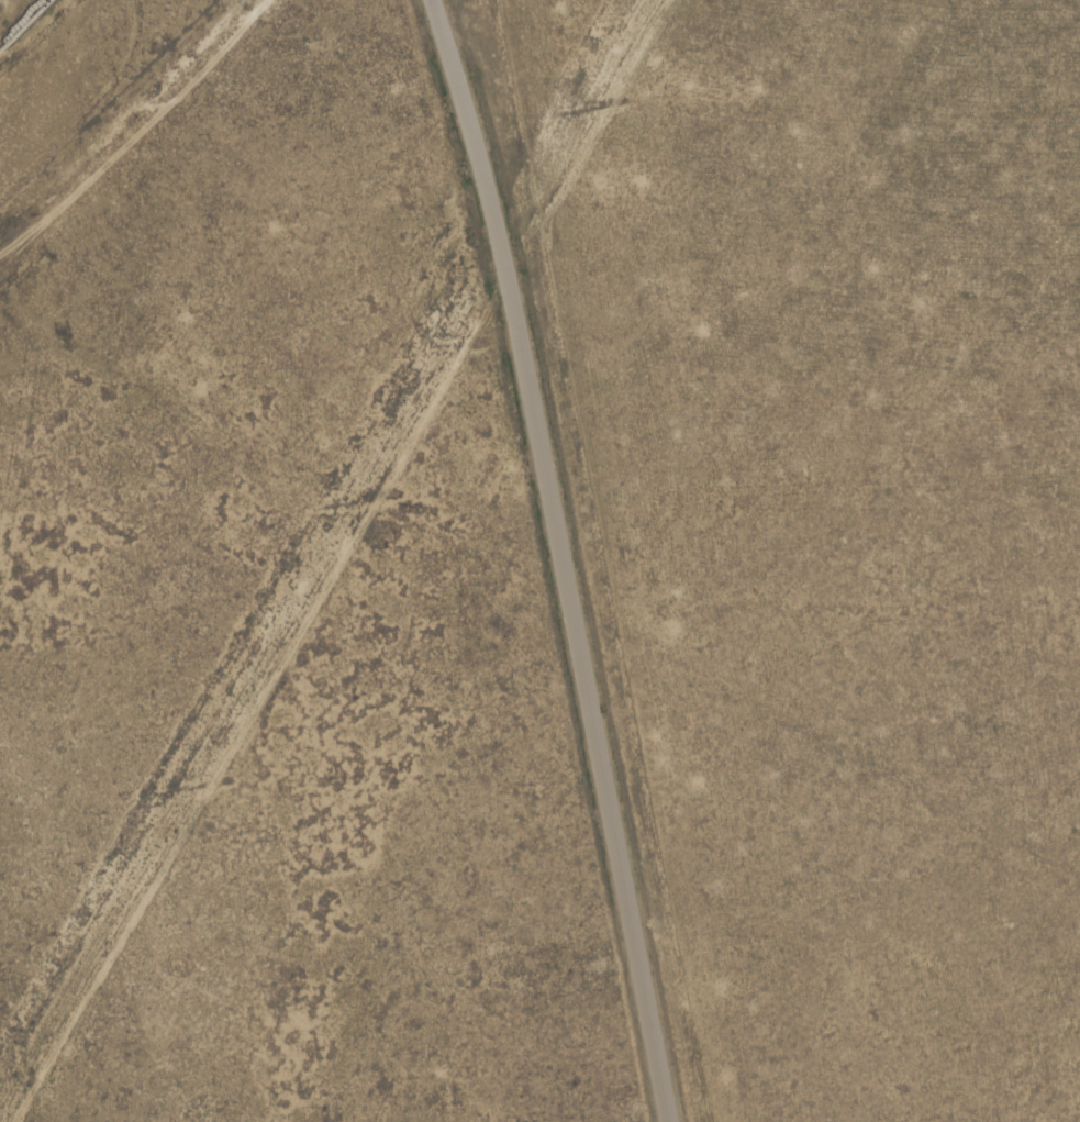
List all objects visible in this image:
building: (29, 18)
road: (555, 558)

